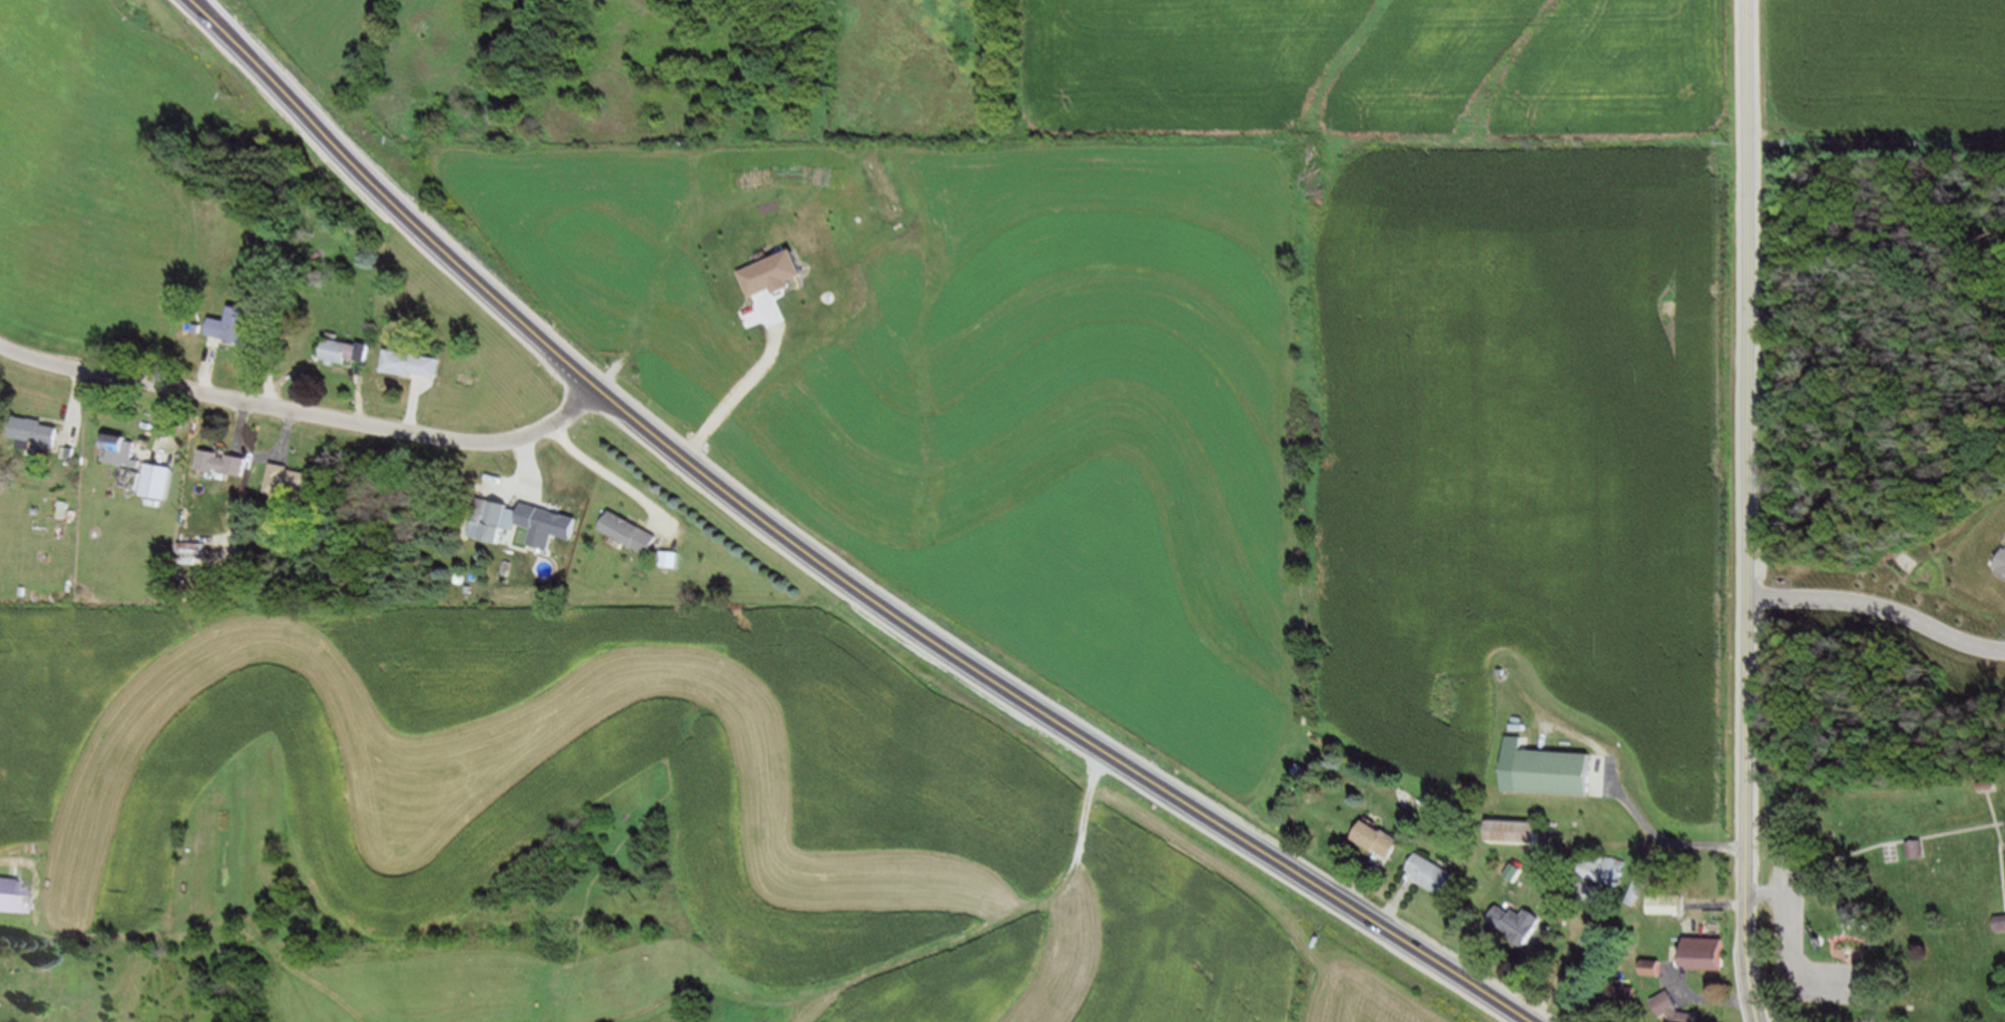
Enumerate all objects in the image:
building: (269, 309)
building: (235, 326)
building: (345, 348)
building: (414, 359)
road: (209, 362)
road: (269, 368)
road: (362, 393)
road: (415, 401)
road: (77, 404)
road: (306, 411)
road: (172, 419)
road: (242, 424)
building: (38, 432)
road: (290, 432)
building: (125, 450)
building: (216, 458)
building: (244, 462)
building: (134, 477)
building: (164, 480)
building: (292, 480)
road: (616, 481)
road: (523, 485)
road: (1750, 511)
building: (495, 518)
building: (555, 520)
building: (633, 531)
building: (199, 549)
building: (673, 557)
road: (825, 563)
building: (2002, 566)
road: (1880, 610)
building: (1558, 771)
building: (1303, 774)
building: (1989, 784)
road: (1633, 797)
building: (1517, 828)
building: (1379, 835)
road: (1895, 841)
road: (2000, 845)
building: (1919, 848)
building: (1434, 870)
building: (1619, 875)
road: (1767, 891)
parking lot: (1790, 898)
park: (1879, 898)
building: (1667, 900)
building: (2001, 921)
building: (1515, 924)
building: (1707, 948)
road: (1786, 952)
building: (1655, 964)
building: (1621, 989)
building: (1675, 1008)

